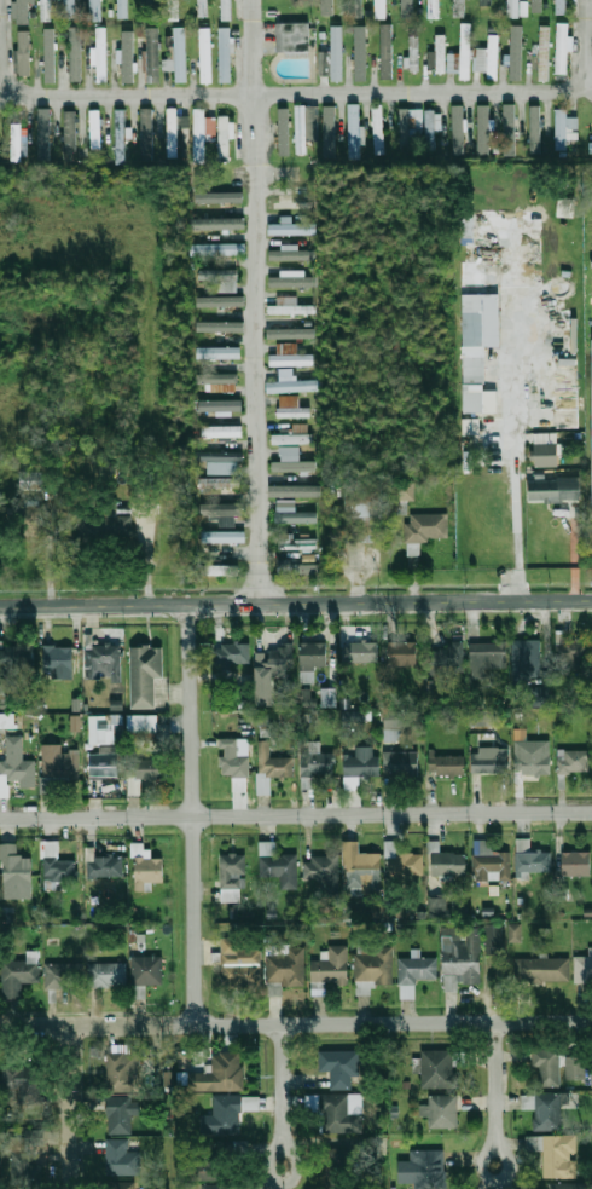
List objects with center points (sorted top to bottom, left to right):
building: (483, 1)
building: (202, 4)
building: (536, 5)
building: (561, 6)
building: (326, 7)
building: (69, 8)
building: (122, 8)
building: (354, 8)
building: (381, 8)
building: (433, 8)
building: (459, 8)
building: (513, 8)
building: (46, 10)
building: (94, 10)
building: (147, 10)
building: (174, 10)
building: (226, 10)
building: (407, 10)
building: (22, 12)
building: (294, 39)
building: (465, 51)
building: (178, 52)
building: (333, 52)
building: (360, 52)
building: (387, 52)
building: (562, 52)
building: (24, 53)
building: (437, 53)
building: (545, 53)
building: (47, 54)
building: (101, 54)
building: (127, 54)
building: (155, 54)
building: (205, 54)
building: (225, 54)
building: (414, 54)
building: (516, 54)
building: (75, 56)
building: (489, 58)
building: (452, 63)
building: (167, 64)
road: (331, 90)
building: (460, 126)
building: (512, 127)
building: (538, 127)
building: (95, 128)
building: (330, 128)
building: (405, 128)
building: (563, 128)
building: (174, 129)
building: (304, 129)
building: (378, 129)
building: (430, 129)
building: (484, 129)
building: (354, 131)
building: (285, 133)
building: (146, 134)
building: (199, 134)
building: (43, 135)
building: (69, 135)
building: (121, 137)
building: (225, 137)
building: (14, 142)
building: (591, 146)
building: (217, 196)
building: (292, 203)
building: (567, 207)
building: (220, 224)
building: (466, 227)
building: (292, 229)
building: (219, 248)
building: (291, 254)
building: (222, 278)
building: (288, 278)
road: (257, 300)
building: (216, 302)
building: (289, 306)
building: (221, 329)
building: (285, 330)
building: (480, 334)
building: (219, 352)
building: (291, 359)
building: (591, 379)
building: (217, 380)
building: (290, 383)
building: (480, 400)
building: (219, 404)
building: (291, 408)
building: (471, 427)
building: (221, 434)
building: (294, 435)
road: (513, 451)
building: (547, 454)
building: (221, 461)
building: (294, 466)
building: (30, 480)
building: (220, 481)
building: (555, 489)
building: (294, 491)
building: (402, 491)
building: (220, 508)
building: (364, 512)
building: (292, 513)
building: (25, 521)
building: (109, 526)
building: (428, 526)
building: (224, 536)
building: (297, 543)
road: (147, 550)
building: (297, 566)
building: (217, 570)
road: (295, 601)
building: (573, 650)
building: (232, 652)
building: (362, 653)
building: (404, 653)
building: (17, 656)
building: (445, 657)
building: (62, 658)
building: (313, 658)
building: (488, 658)
building: (105, 659)
building: (526, 660)
building: (271, 664)
building: (145, 674)
building: (538, 697)
building: (306, 698)
building: (352, 715)
building: (481, 717)
building: (75, 722)
building: (143, 723)
building: (393, 726)
building: (103, 728)
building: (533, 757)
building: (491, 760)
building: (574, 762)
building: (404, 763)
building: (104, 764)
building: (234, 764)
building: (360, 764)
building: (449, 764)
building: (315, 766)
building: (60, 767)
building: (272, 769)
building: (143, 772)
building: (16, 773)
road: (192, 813)
road: (296, 814)
building: (532, 858)
building: (402, 861)
building: (448, 862)
building: (489, 862)
building: (578, 864)
building: (146, 865)
building: (278, 865)
building: (16, 866)
building: (105, 866)
building: (56, 868)
building: (324, 870)
building: (362, 870)
building: (232, 877)
building: (437, 906)
building: (513, 933)
building: (493, 939)
building: (460, 956)
building: (239, 963)
building: (373, 964)
building: (285, 965)
building: (331, 966)
building: (541, 969)
building: (584, 969)
building: (146, 970)
building: (21, 972)
building: (416, 972)
building: (63, 975)
building: (106, 975)
road: (295, 1022)
building: (339, 1061)
building: (547, 1066)
building: (575, 1067)
building: (437, 1068)
building: (123, 1072)
building: (219, 1073)
building: (168, 1078)
building: (25, 1081)
road: (497, 1093)
road: (283, 1096)
building: (312, 1101)
road: (69, 1108)
building: (443, 1110)
building: (546, 1110)
building: (336, 1113)
building: (121, 1114)
building: (222, 1115)
building: (556, 1154)
building: (122, 1156)
building: (22, 1167)
building: (425, 1167)
building: (207, 1168)
building: (339, 1176)
building: (123, 1185)
building: (565, 1185)
building: (210, 1187)

